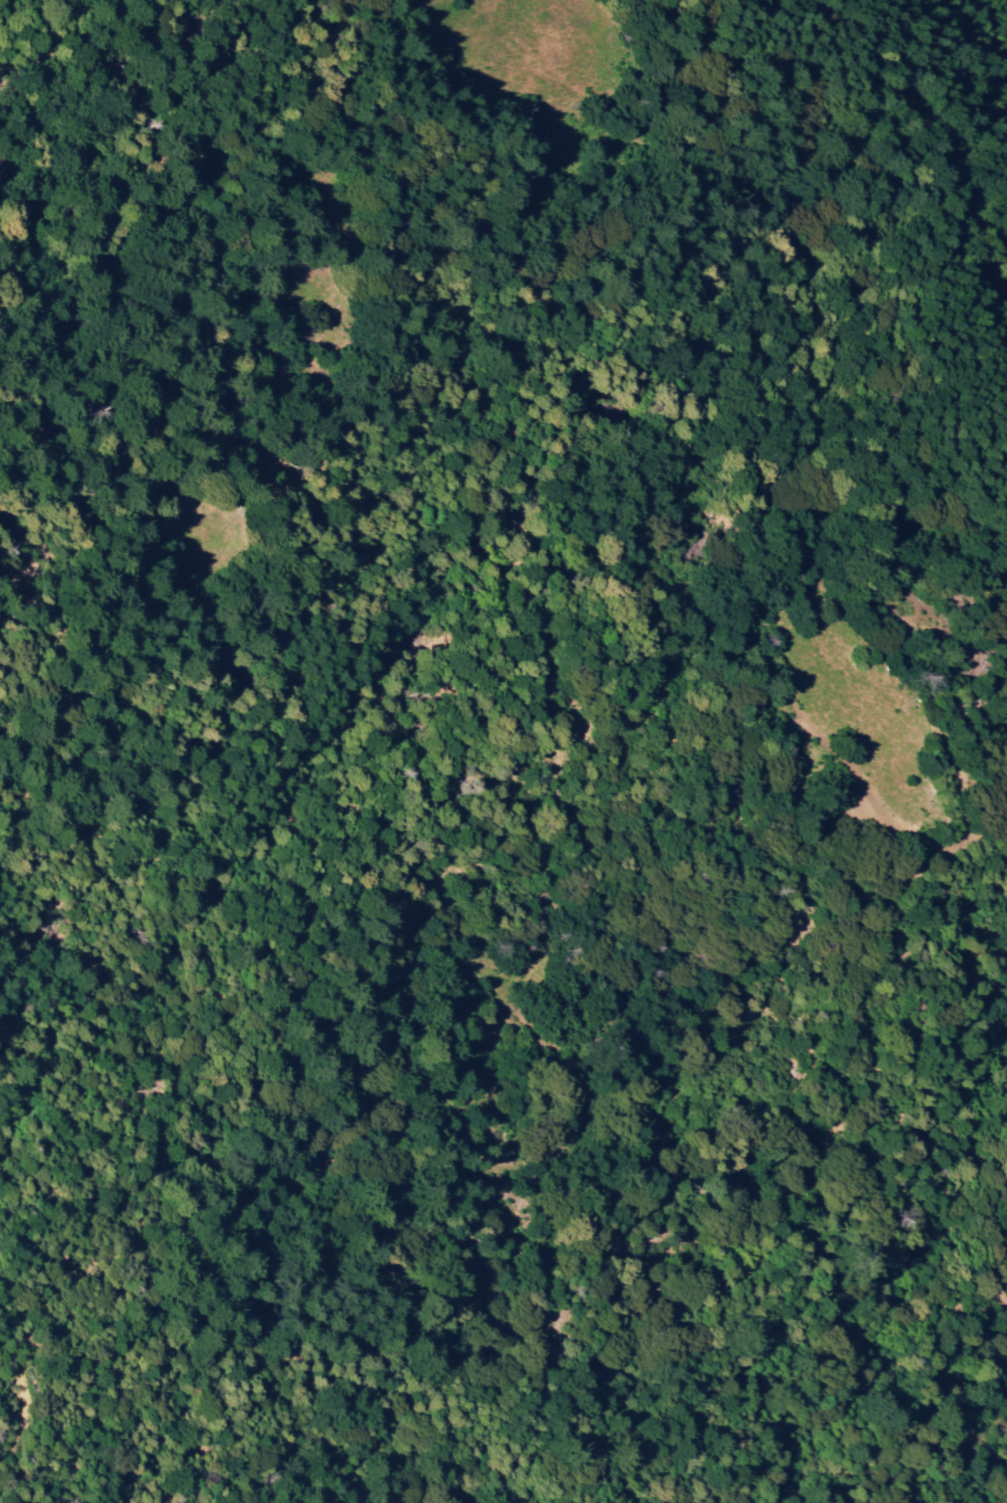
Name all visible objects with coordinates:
road: (866, 92)

